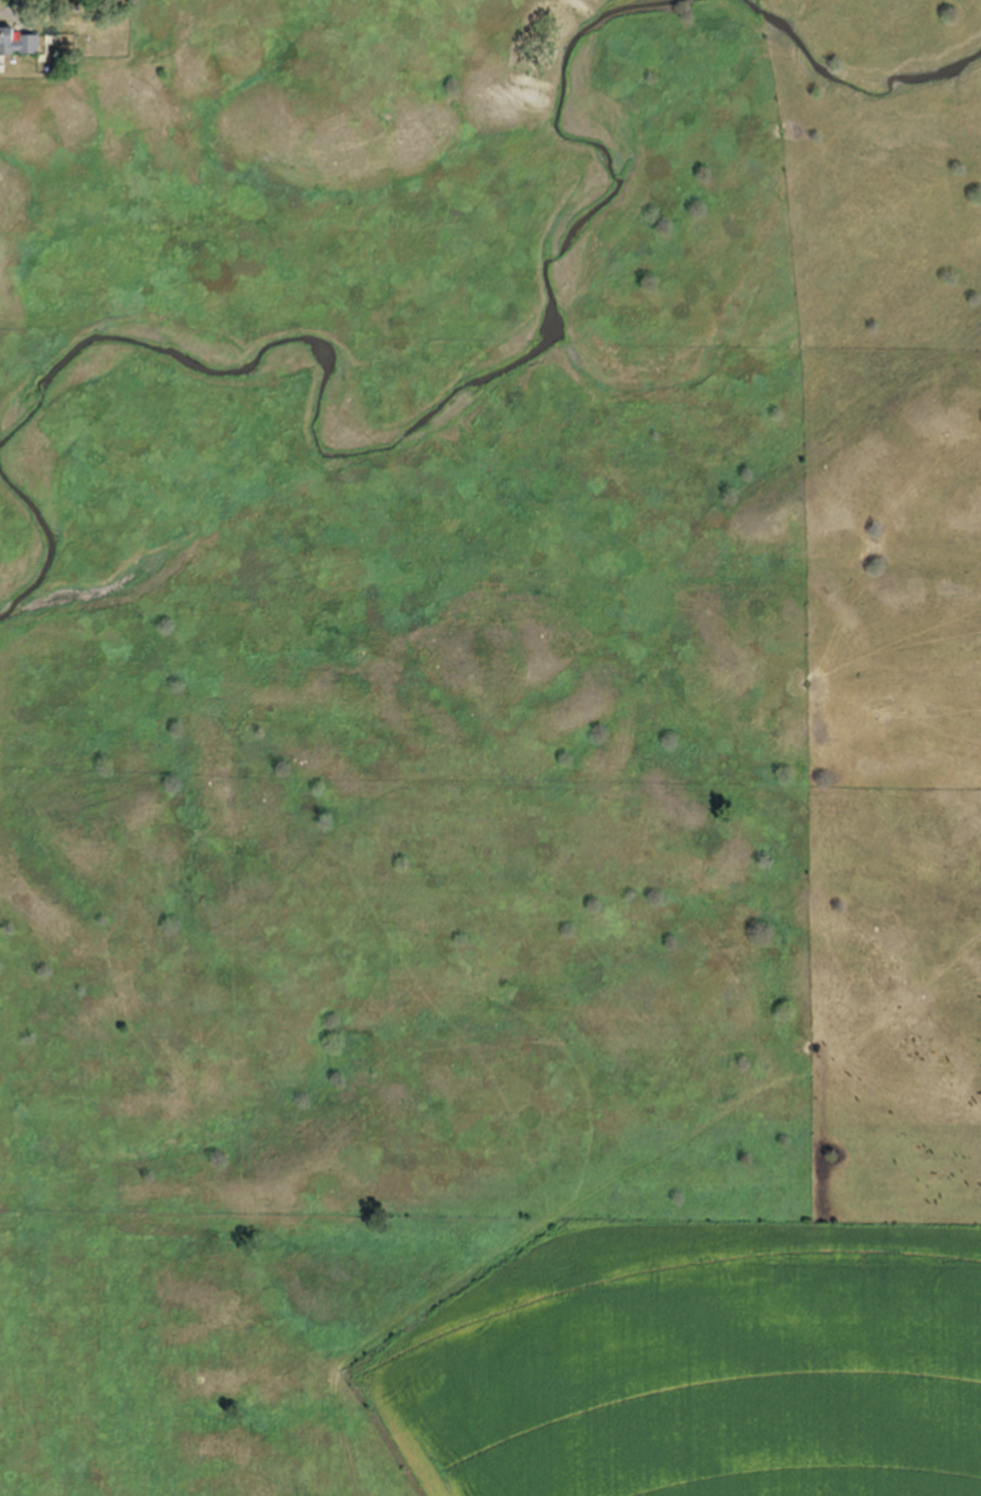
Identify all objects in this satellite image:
road: (10, 10)
building: (18, 42)

